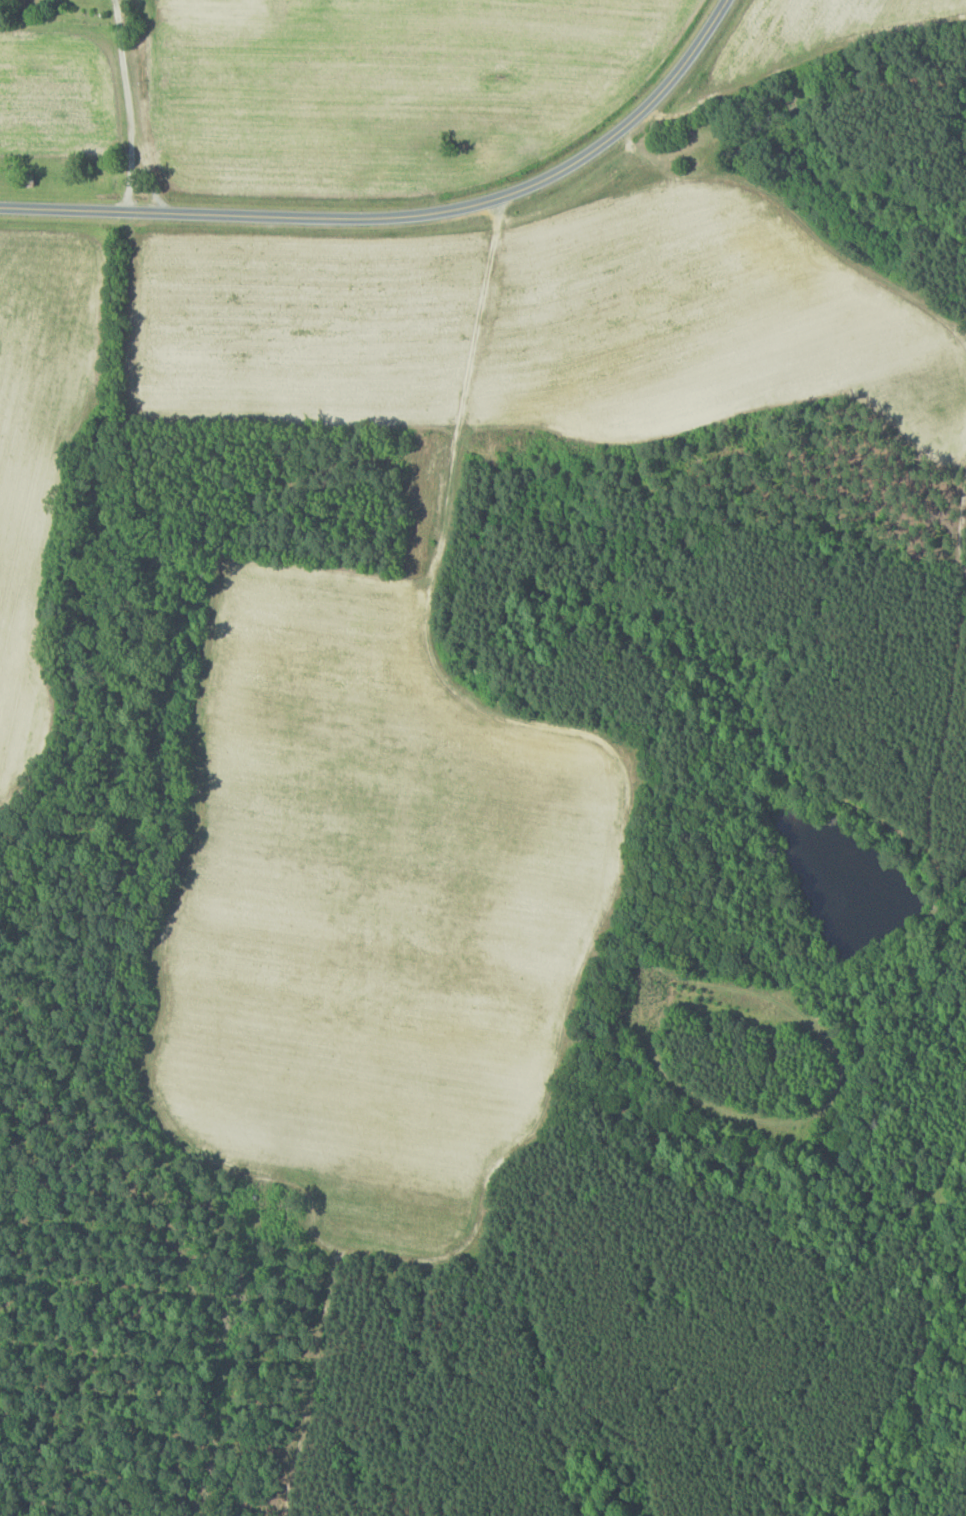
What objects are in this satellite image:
road: (124, 65)
road: (137, 132)
road: (406, 219)
road: (811, 221)
road: (938, 761)

